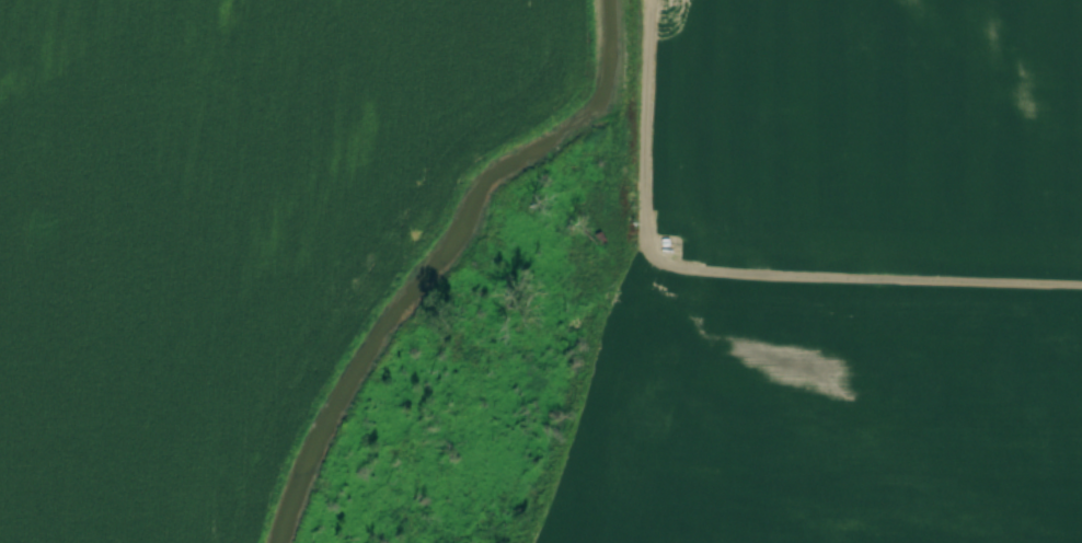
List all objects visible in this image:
road: (630, 96)

